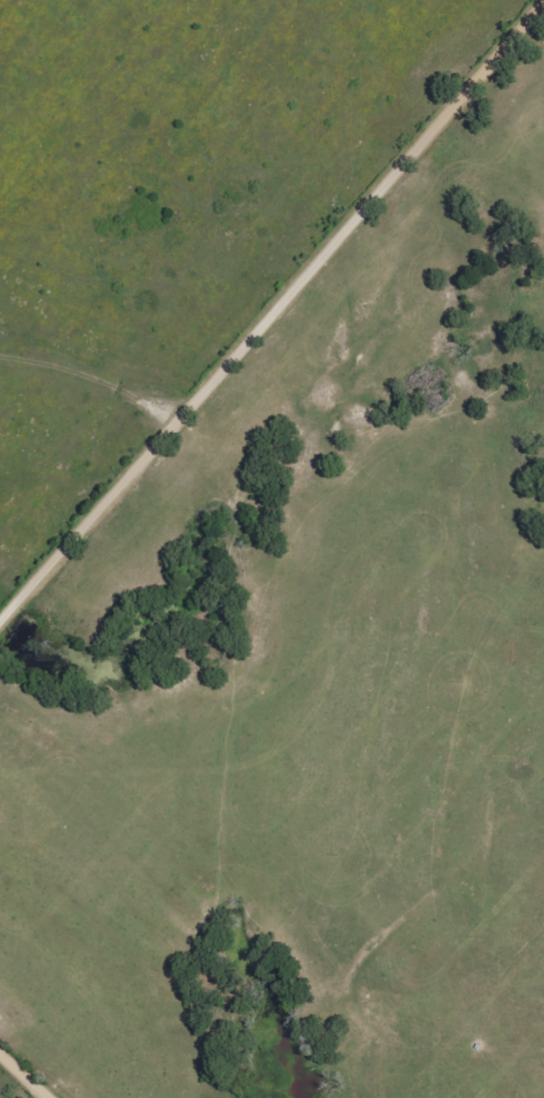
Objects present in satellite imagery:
road: (271, 309)
road: (27, 1072)

